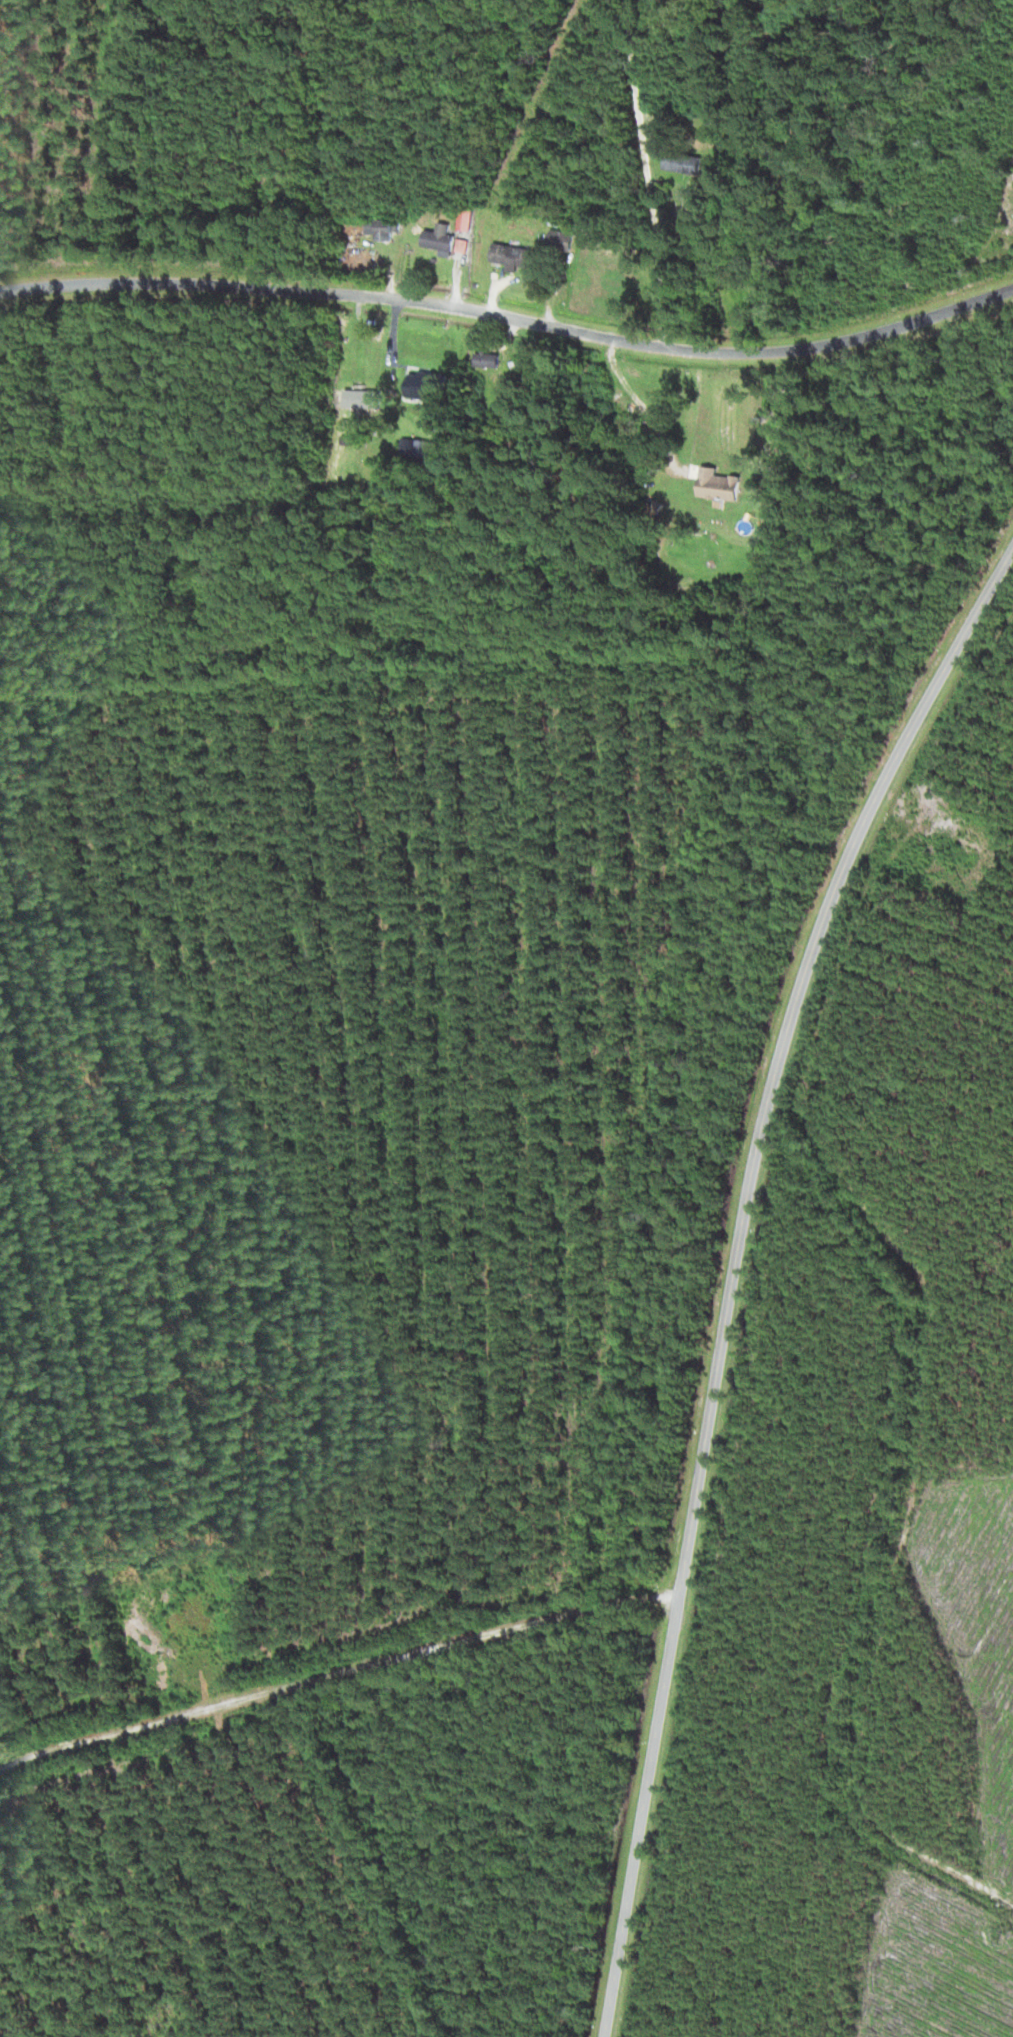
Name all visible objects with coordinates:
building: (682, 162)
road: (645, 169)
building: (467, 220)
building: (381, 229)
building: (446, 241)
building: (562, 241)
building: (511, 257)
road: (509, 318)
building: (487, 359)
building: (428, 387)
building: (361, 398)
building: (418, 448)
building: (720, 485)
road: (734, 1268)
road: (335, 1671)

